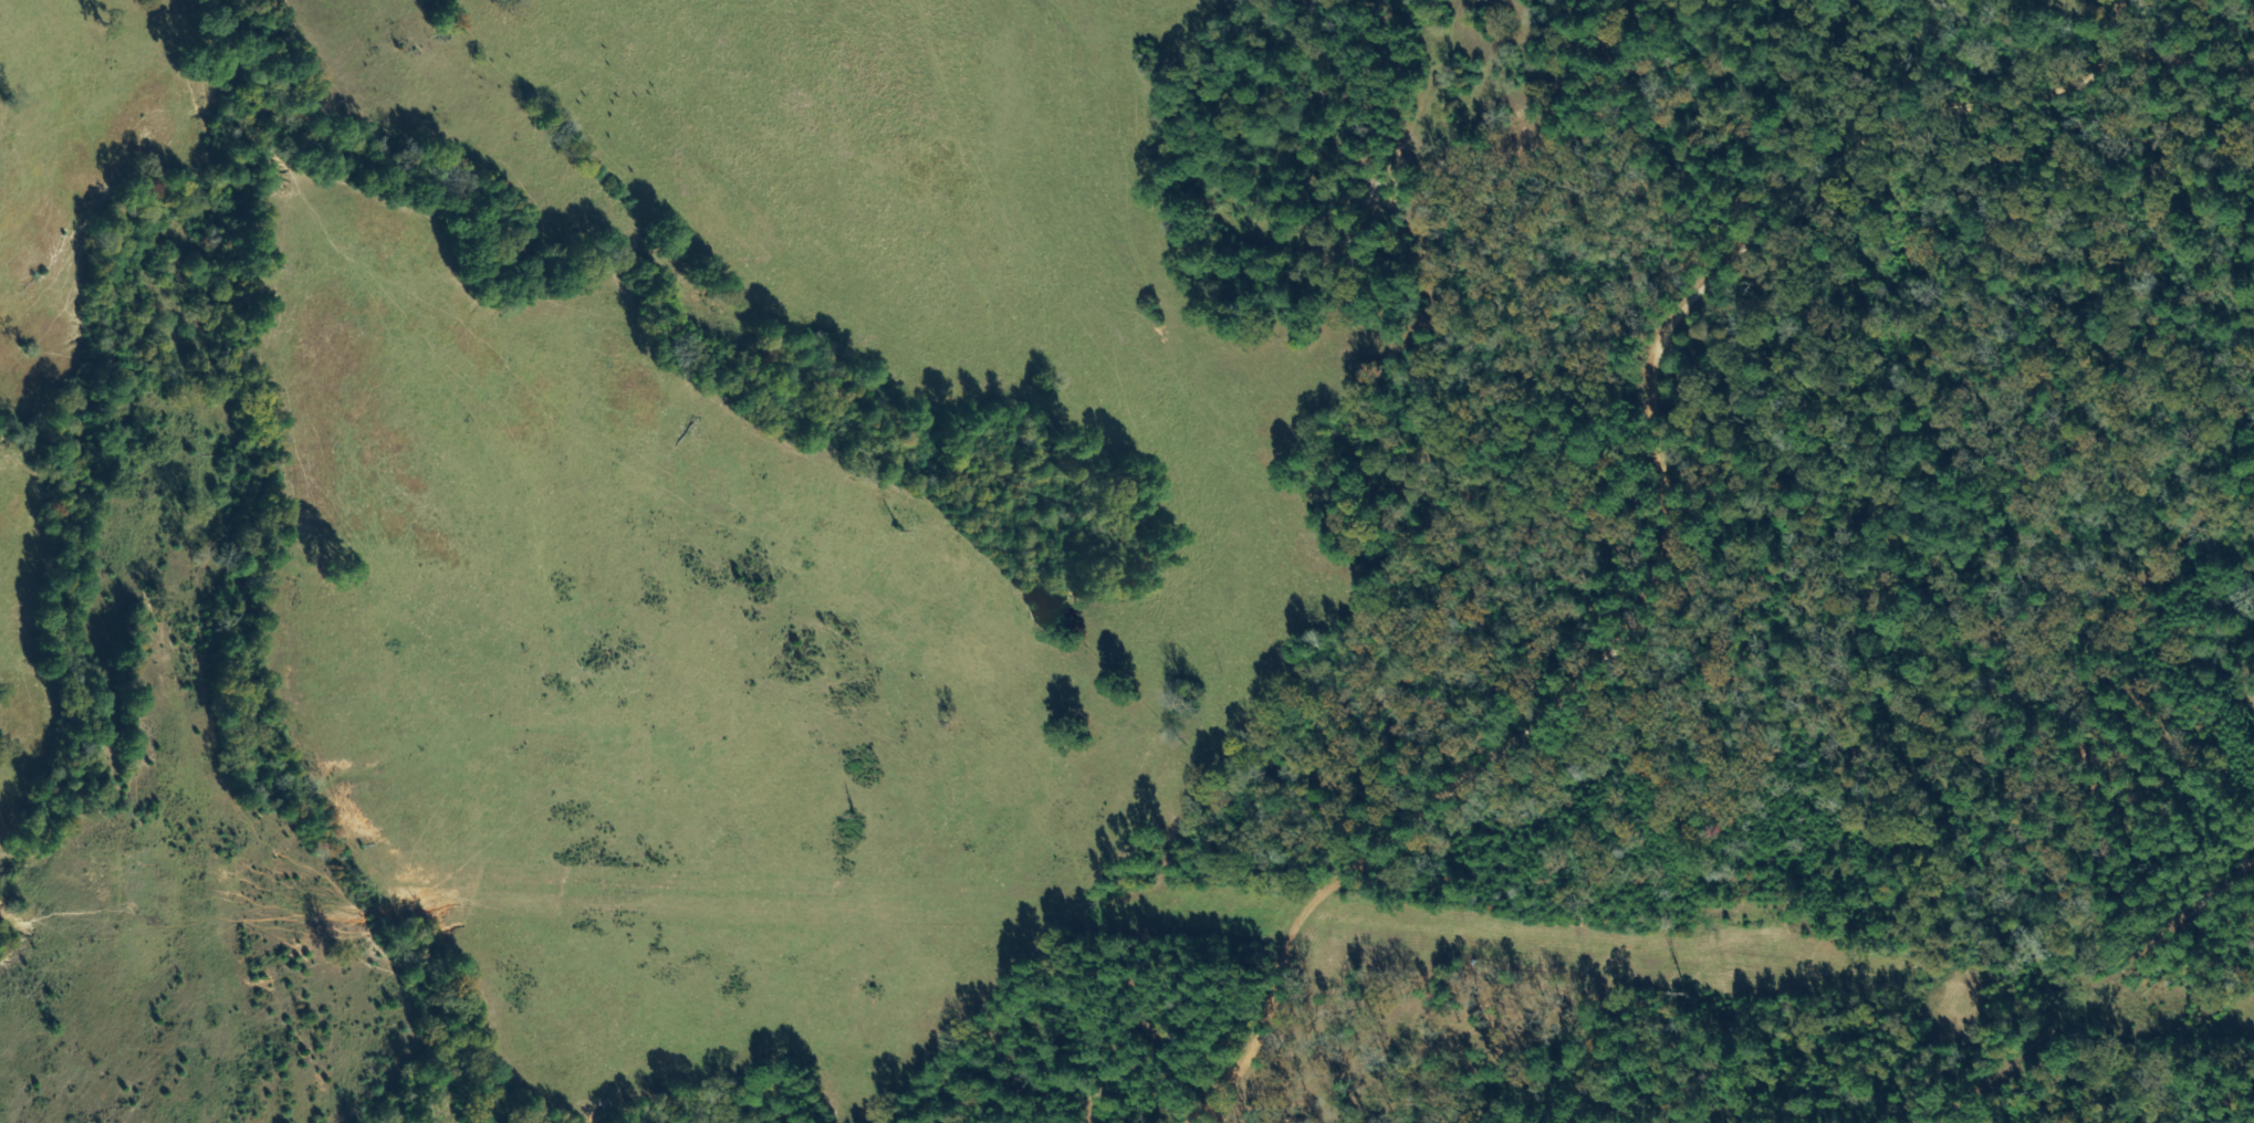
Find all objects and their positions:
road: (1634, 389)
road: (1213, 456)
road: (1266, 1032)

